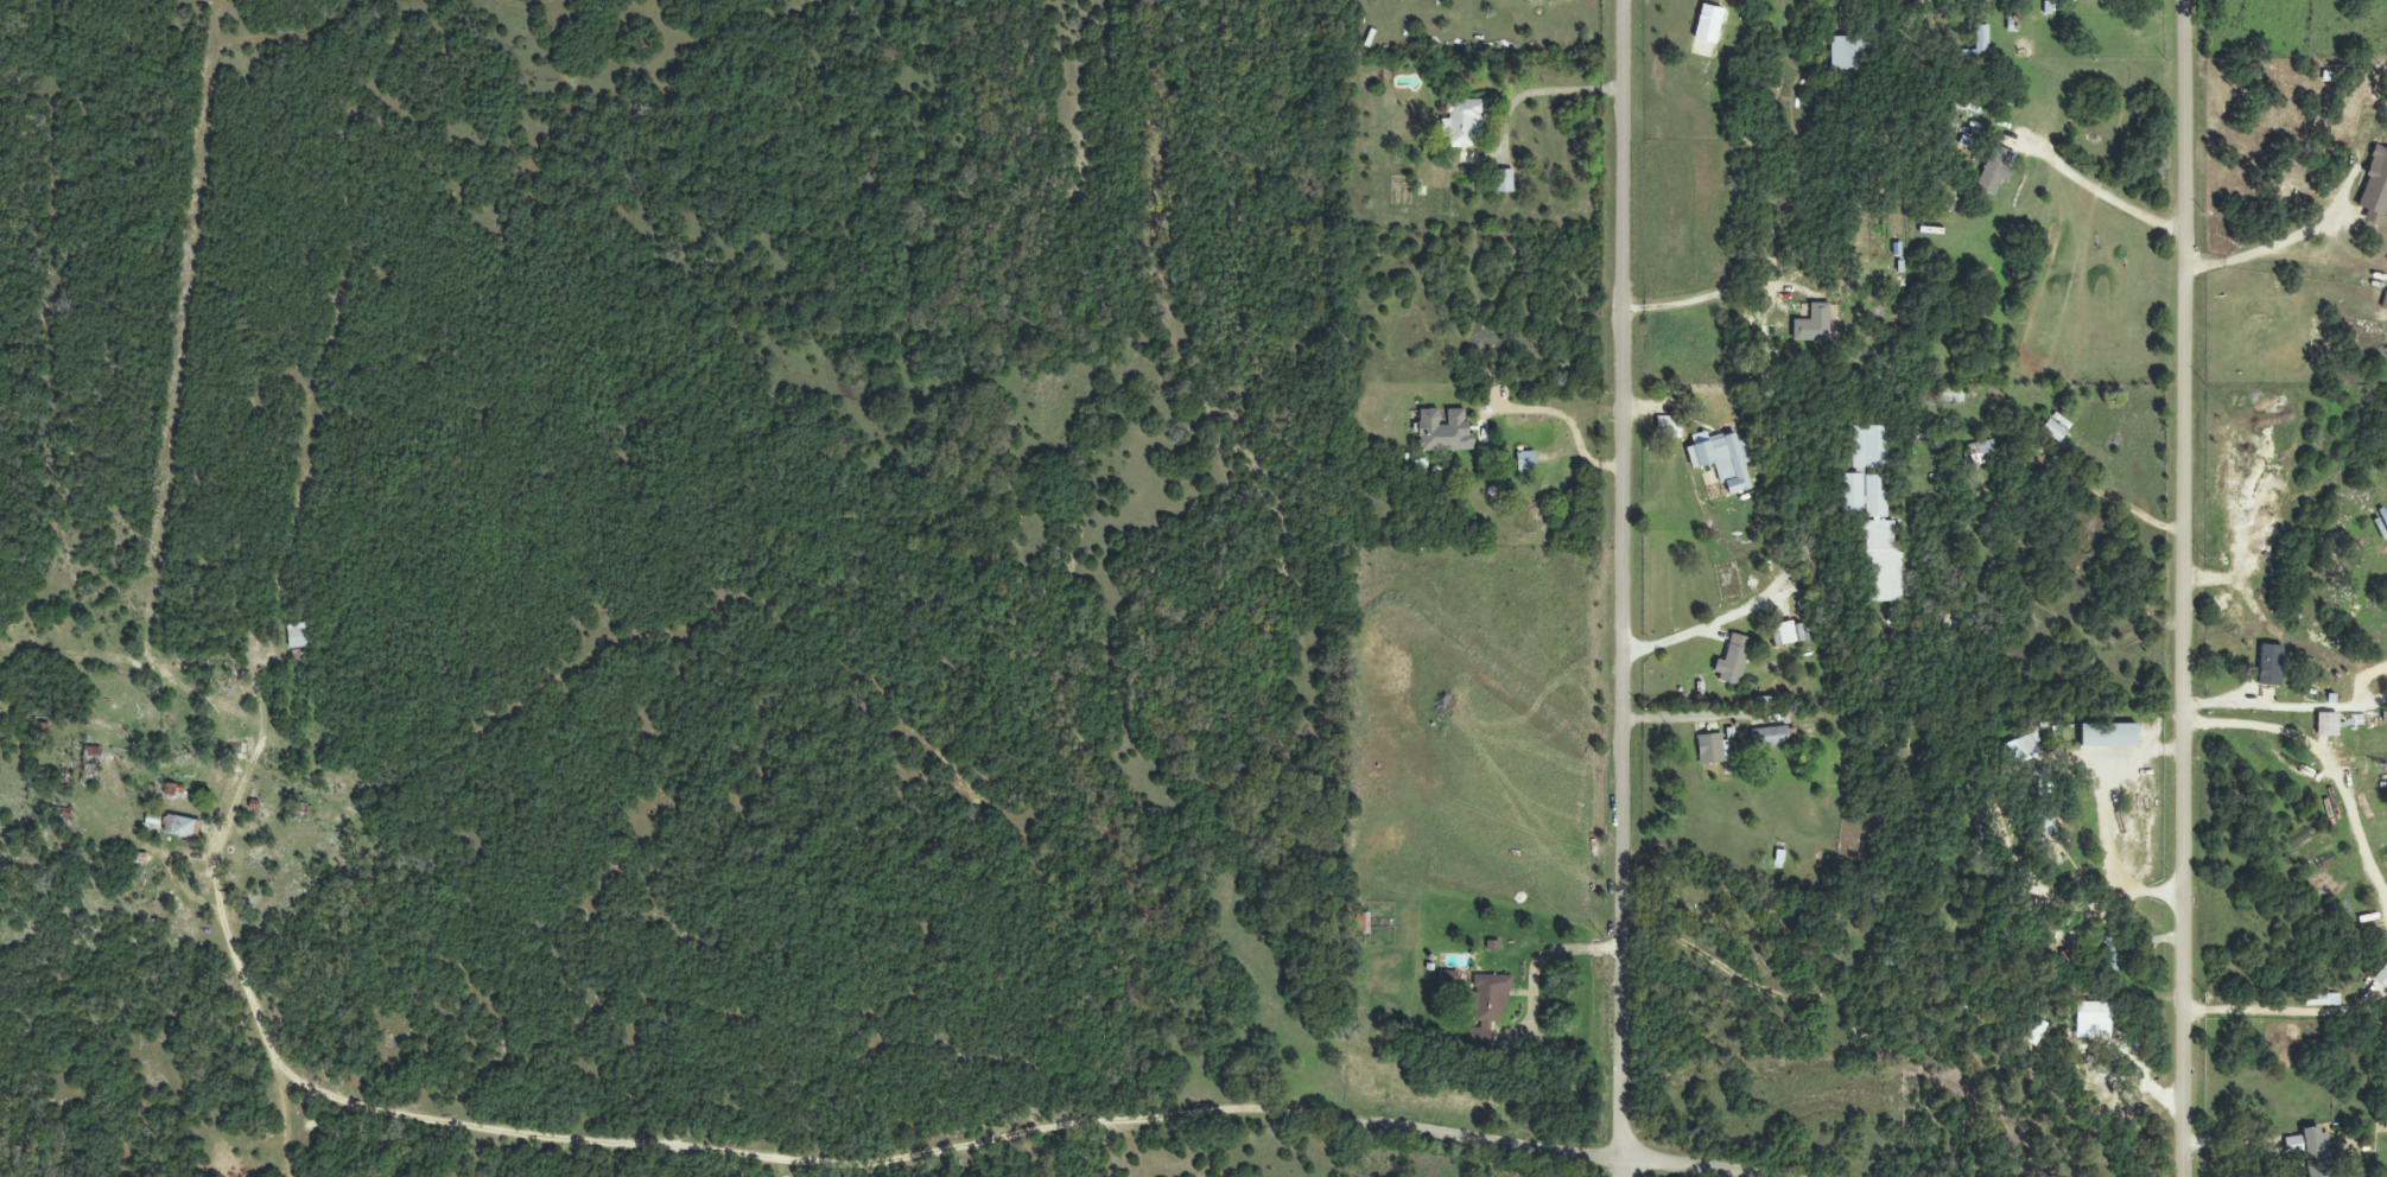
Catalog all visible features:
building: (1707, 24)
building: (1977, 45)
building: (1846, 53)
road: (1538, 90)
building: (1462, 122)
building: (1995, 170)
building: (1503, 180)
building: (2374, 189)
road: (2108, 198)
road: (2273, 246)
building: (2383, 299)
road: (1695, 300)
building: (1813, 324)
building: (1949, 394)
building: (1669, 424)
road: (1568, 425)
building: (2052, 430)
building: (1443, 431)
building: (1980, 453)
building: (1525, 460)
building: (1722, 460)
building: (1873, 513)
road: (2138, 514)
road: (2186, 587)
road: (1621, 588)
road: (1723, 616)
building: (1786, 634)
building: (298, 635)
building: (1732, 660)
road: (2121, 676)
road: (1677, 714)
building: (2326, 724)
building: (2108, 734)
building: (1770, 737)
building: (1712, 749)
building: (2021, 749)
road: (2325, 759)
building: (152, 822)
building: (179, 826)
building: (2046, 826)
road: (1659, 899)
building: (1361, 923)
road: (1530, 972)
building: (2381, 975)
building: (1488, 997)
building: (2322, 999)
road: (2287, 1012)
road: (2151, 1029)
building: (2033, 1031)
building: (2089, 1031)
building: (1478, 1033)
road: (564, 1139)
road: (1498, 1140)
road: (2249, 1172)

